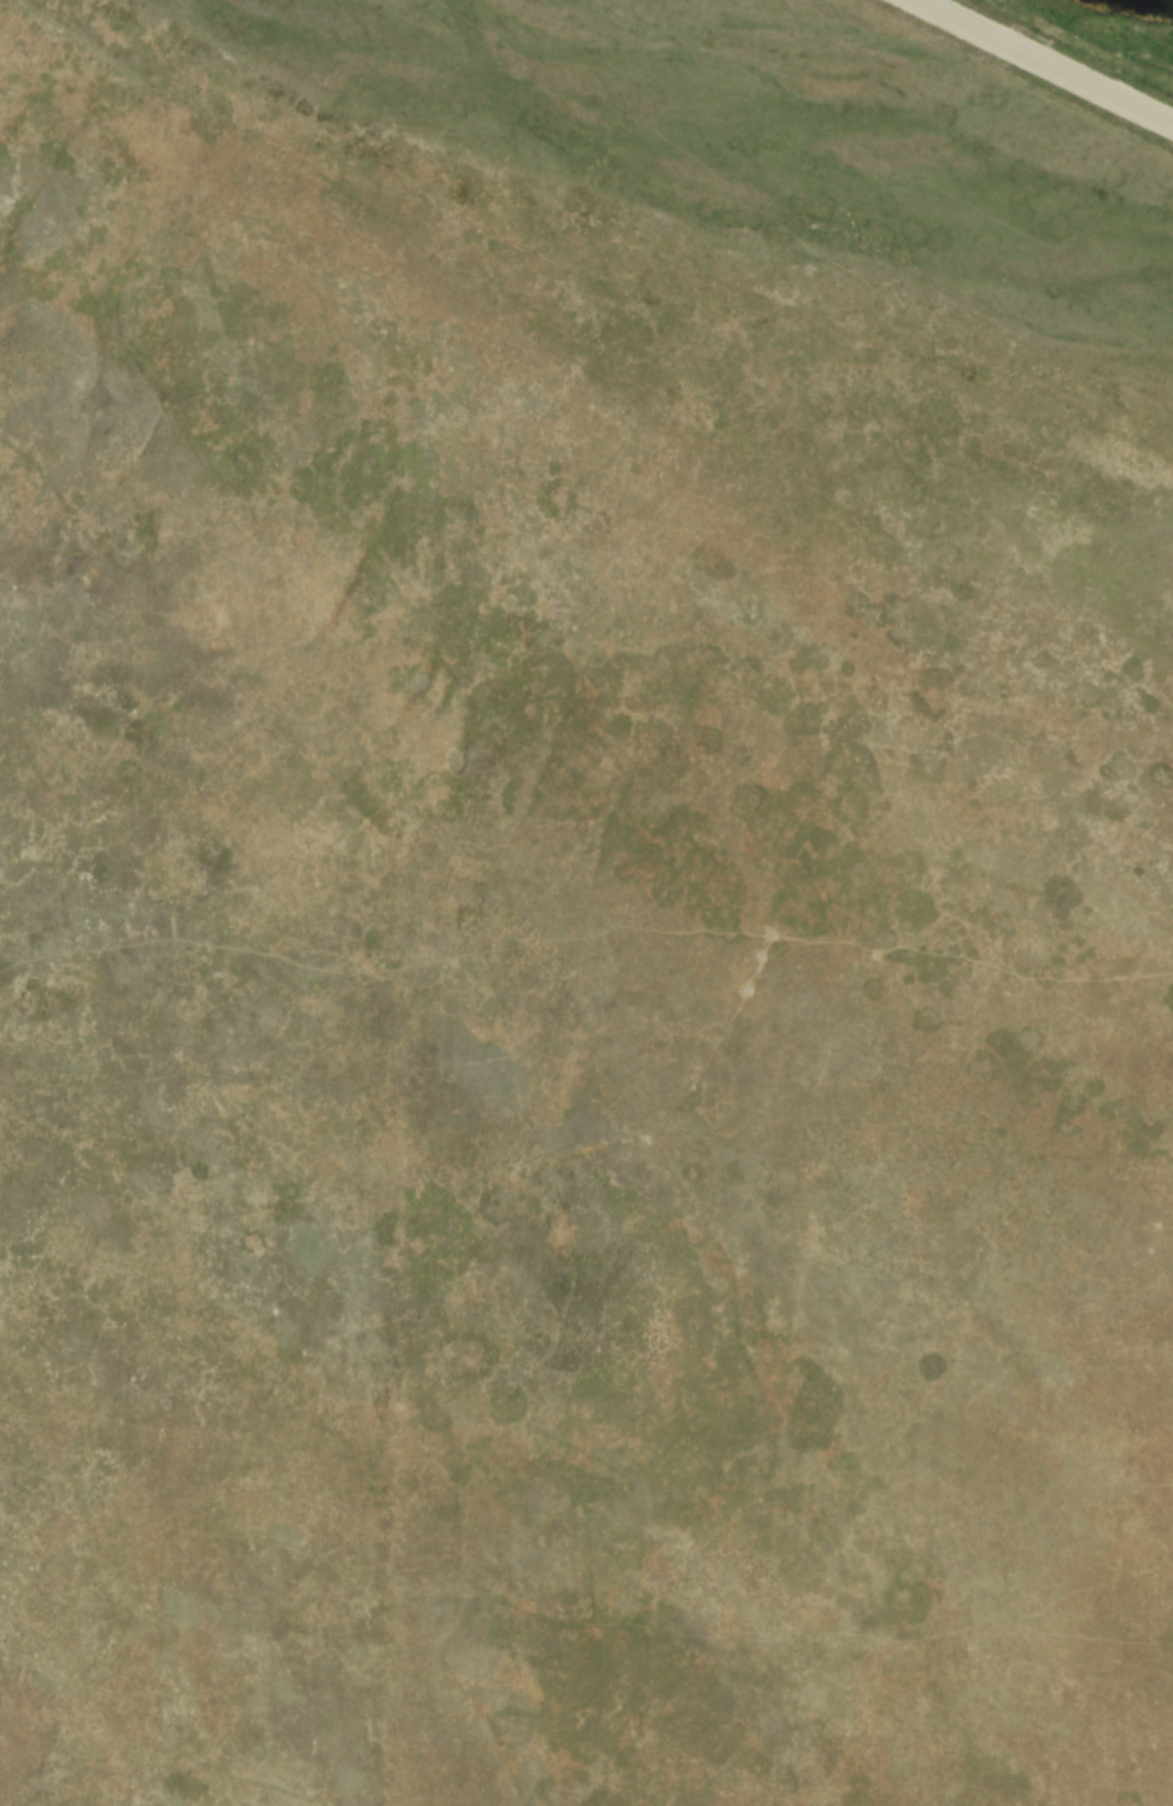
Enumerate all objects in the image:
road: (1037, 66)

